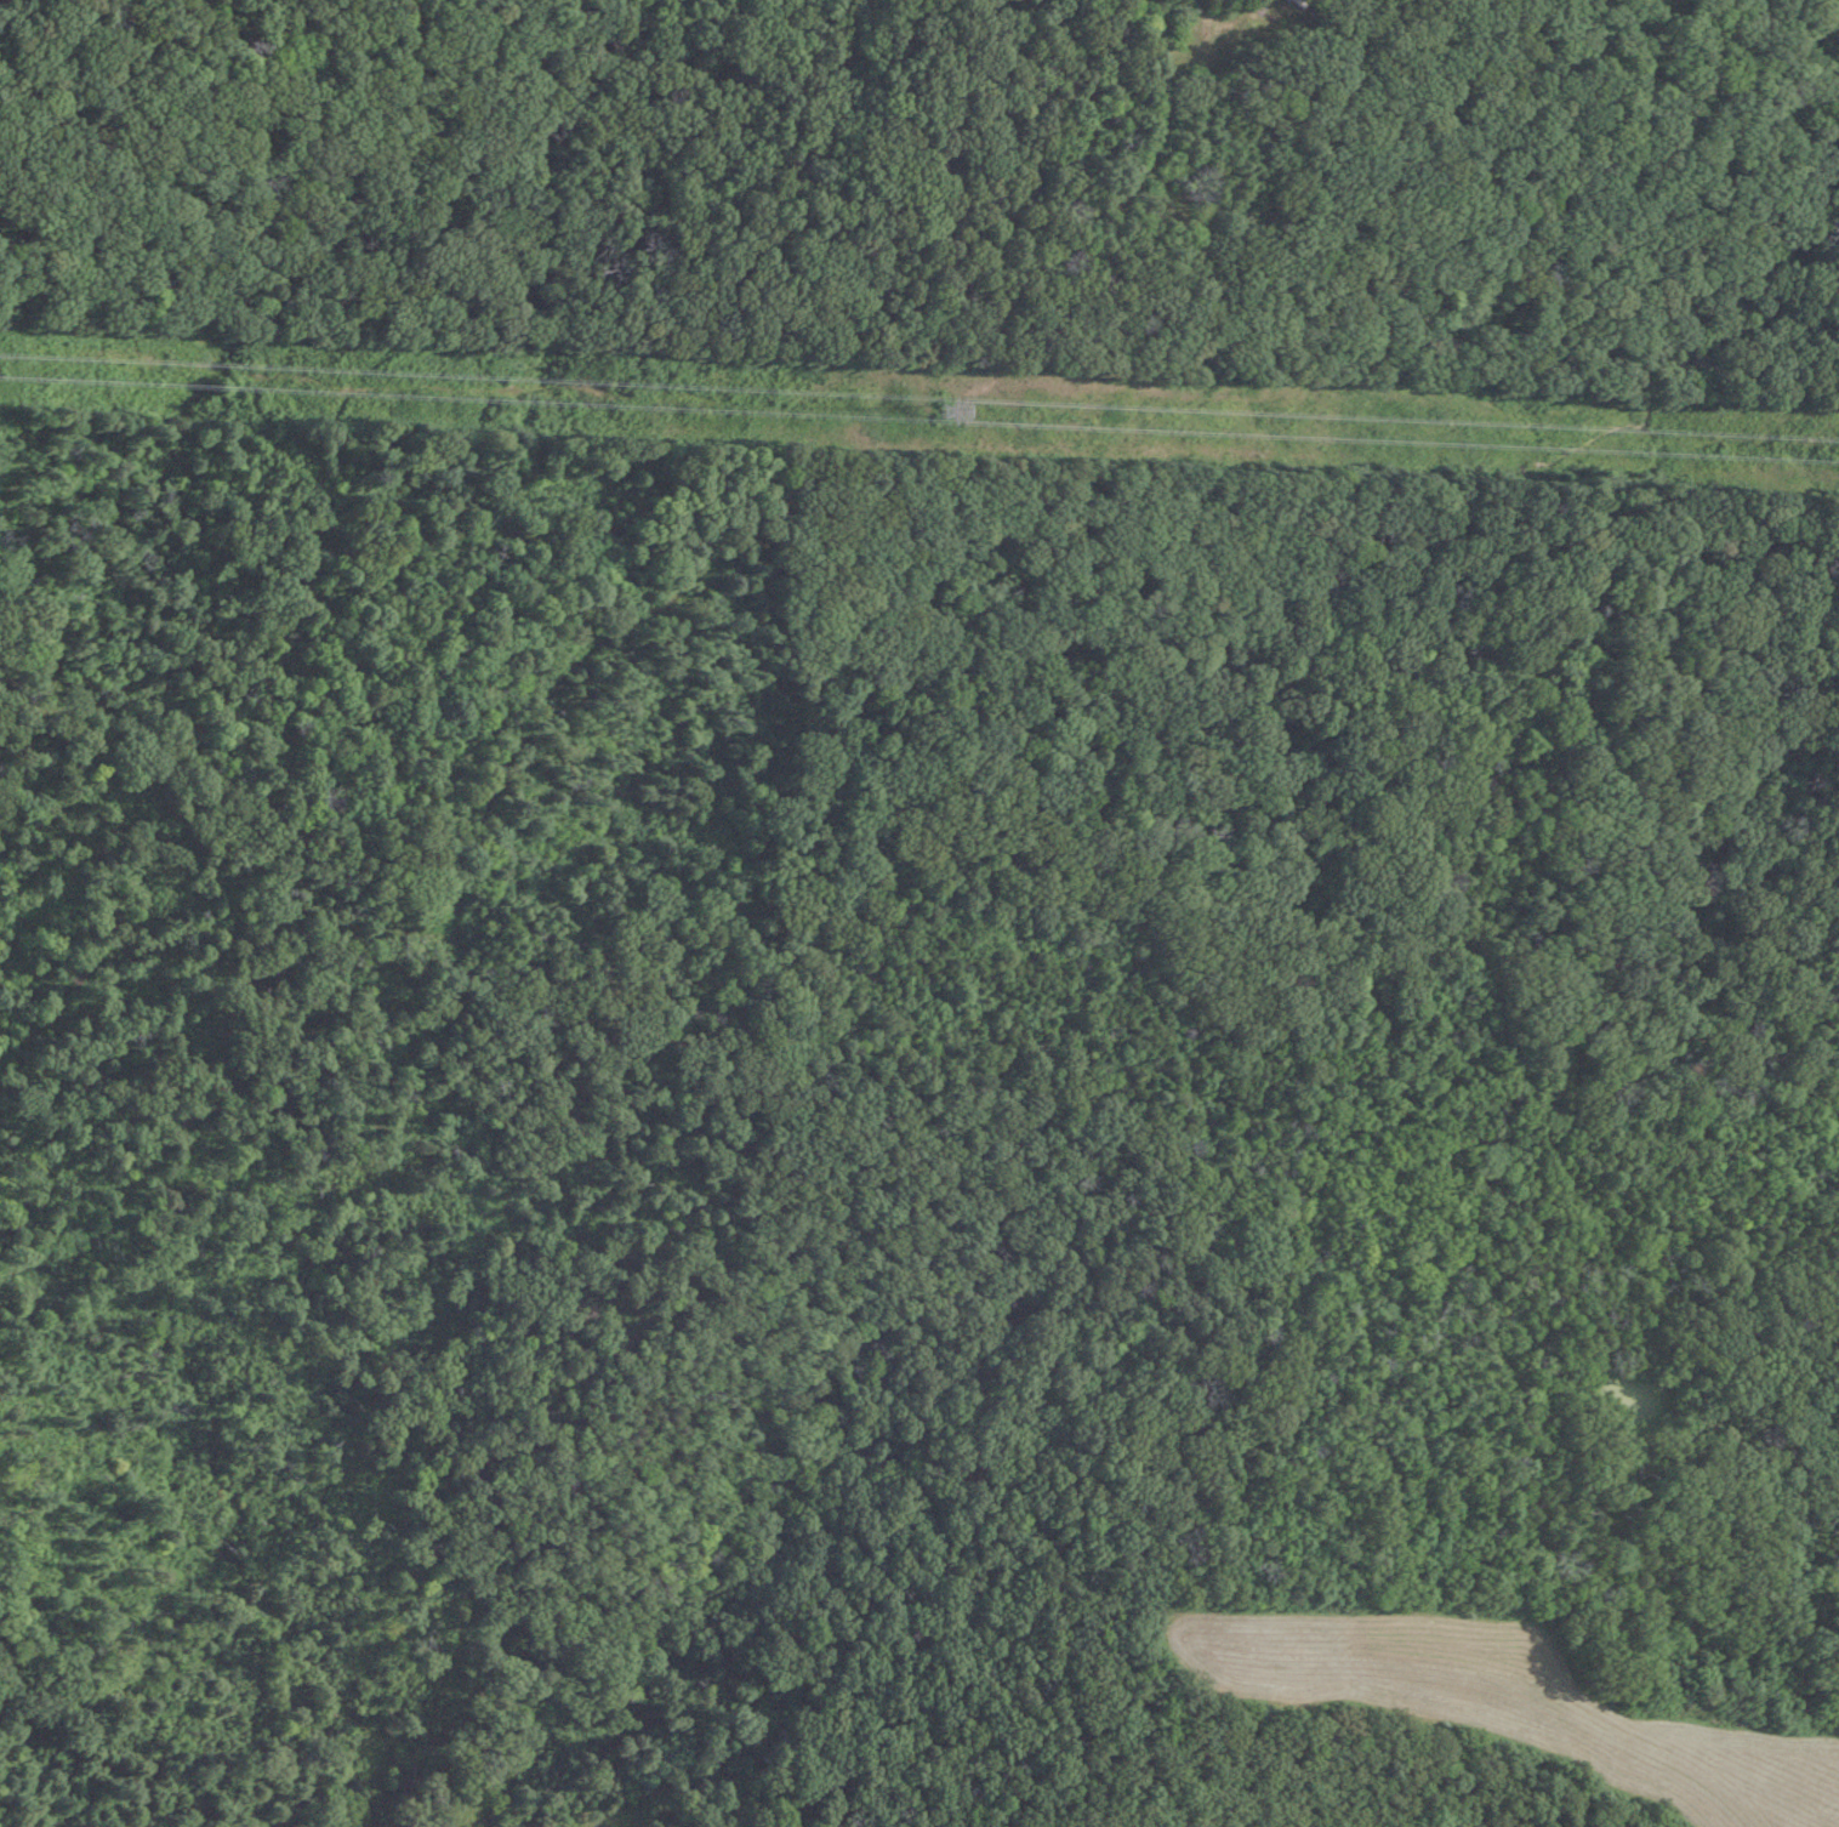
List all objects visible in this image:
building: (1304, 2)
power tower: (944, 419)

